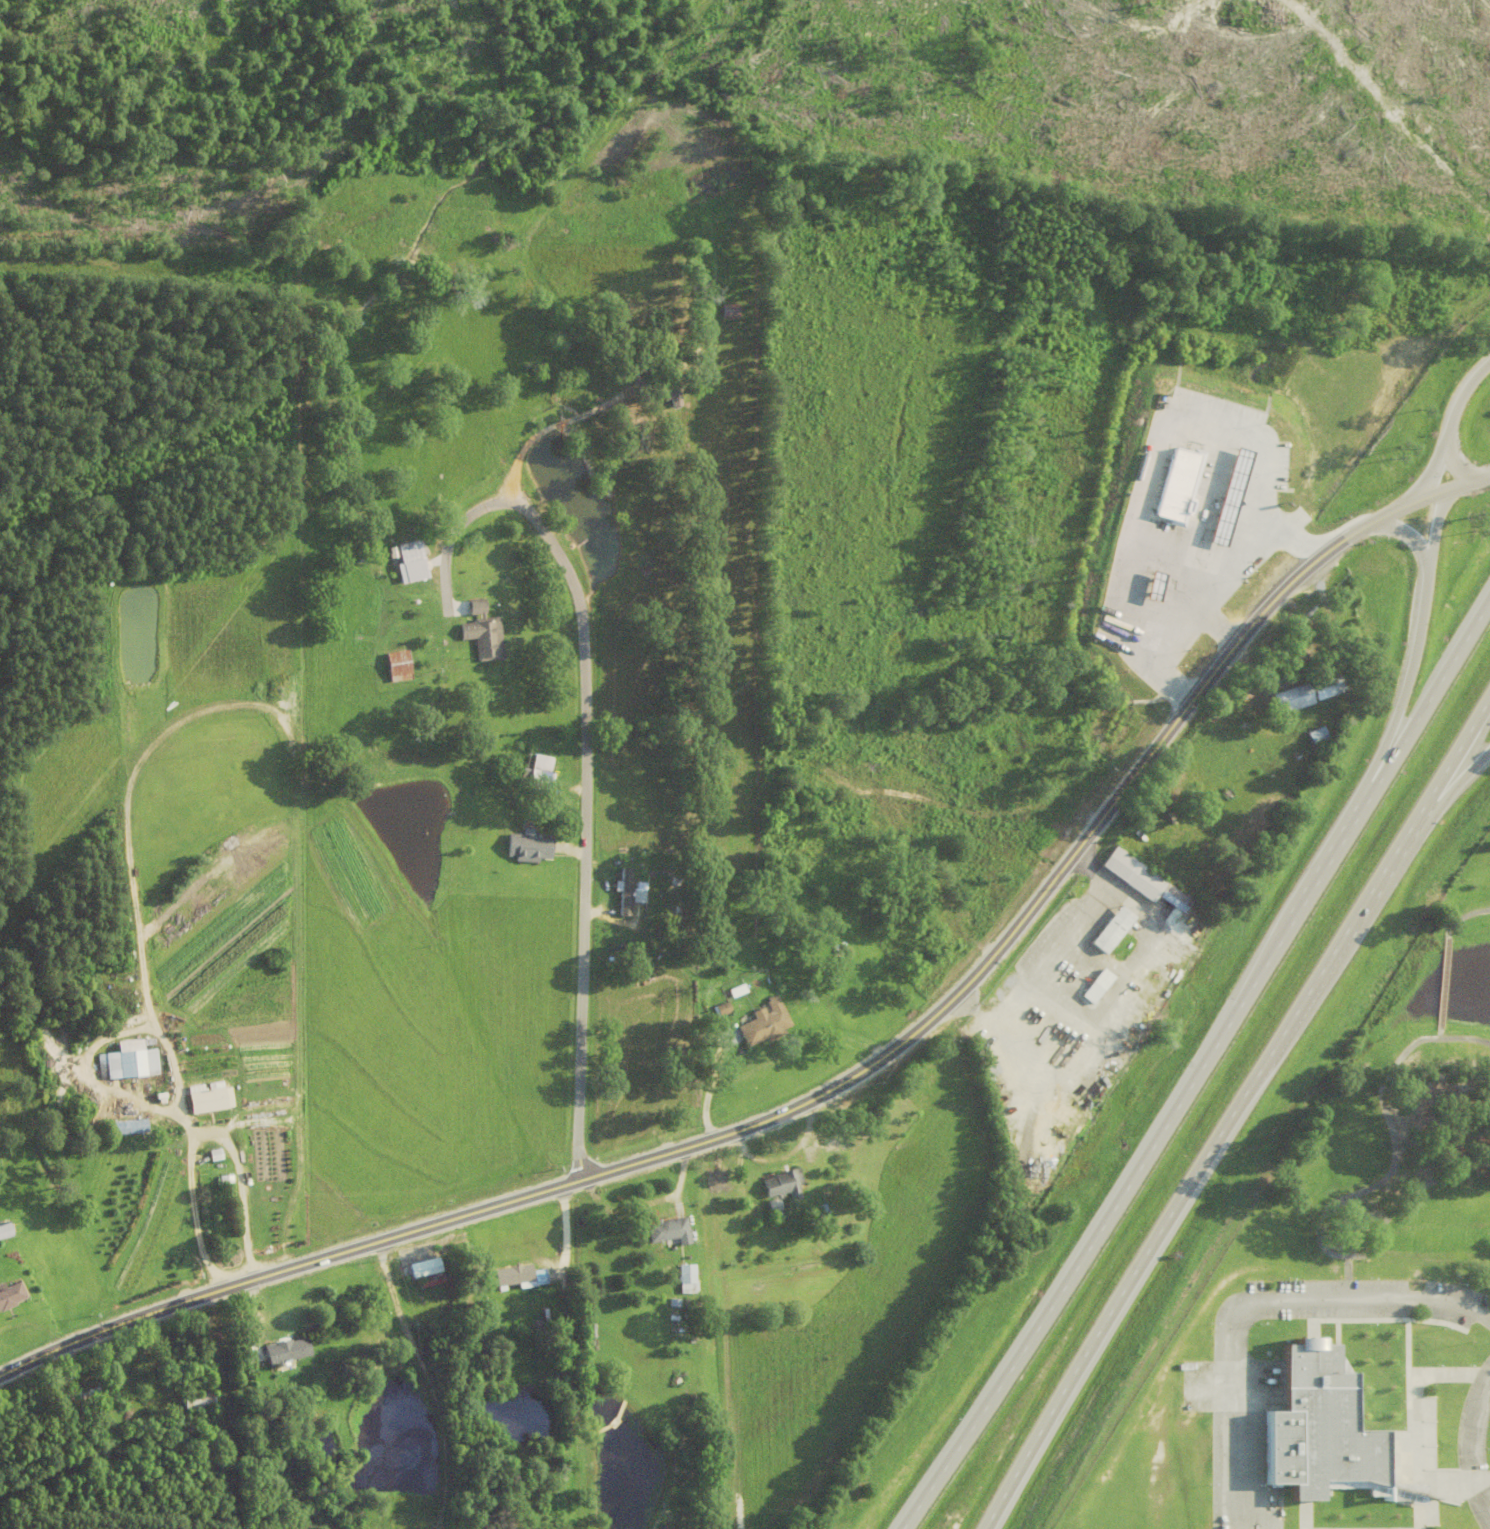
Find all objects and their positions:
building: (731, 309)
building: (673, 383)
road: (1462, 397)
road: (1170, 412)
road: (557, 422)
road: (1450, 462)
road: (1433, 470)
building: (1177, 479)
building: (1245, 490)
road: (1210, 491)
building: (1231, 491)
gas station: (1231, 491)
road: (1429, 492)
road: (1433, 527)
road: (1350, 531)
road: (1406, 535)
road: (1287, 540)
road: (1210, 561)
building: (413, 564)
building: (1241, 571)
building: (1156, 581)
gas station: (1156, 581)
road: (1157, 598)
road: (1187, 621)
building: (484, 634)
building: (400, 668)
building: (1310, 690)
road: (1405, 691)
road: (208, 708)
building: (1319, 735)
road: (586, 752)
road: (1453, 758)
building: (544, 774)
road: (1453, 784)
building: (529, 845)
road: (1083, 864)
building: (1136, 874)
road: (1099, 876)
building: (626, 891)
building: (1176, 898)
road: (1462, 917)
building: (1115, 930)
road: (1348, 930)
road: (1048, 952)
building: (1105, 979)
road: (1442, 983)
building: (738, 990)
road: (963, 1003)
building: (723, 1008)
road: (1108, 1011)
road: (981, 1017)
building: (766, 1022)
road: (1464, 1037)
building: (129, 1059)
road: (1201, 1068)
road: (1386, 1072)
road: (91, 1077)
road: (711, 1083)
building: (210, 1097)
road: (767, 1118)
building: (124, 1126)
park: (1396, 1126)
road: (793, 1149)
road: (739, 1170)
road: (679, 1182)
building: (785, 1183)
road: (241, 1189)
building: (776, 1204)
road: (624, 1208)
building: (818, 1213)
building: (5, 1229)
road: (566, 1229)
building: (671, 1229)
road: (1348, 1255)
building: (425, 1267)
building: (514, 1274)
building: (688, 1277)
building: (536, 1278)
road: (1128, 1283)
building: (11, 1294)
road: (253, 1315)
building: (288, 1349)
building: (182, 1364)
road: (1489, 1368)
road: (426, 1376)
building: (83, 1391)
building: (201, 1403)
building: (1317, 1428)
road: (1465, 1448)

